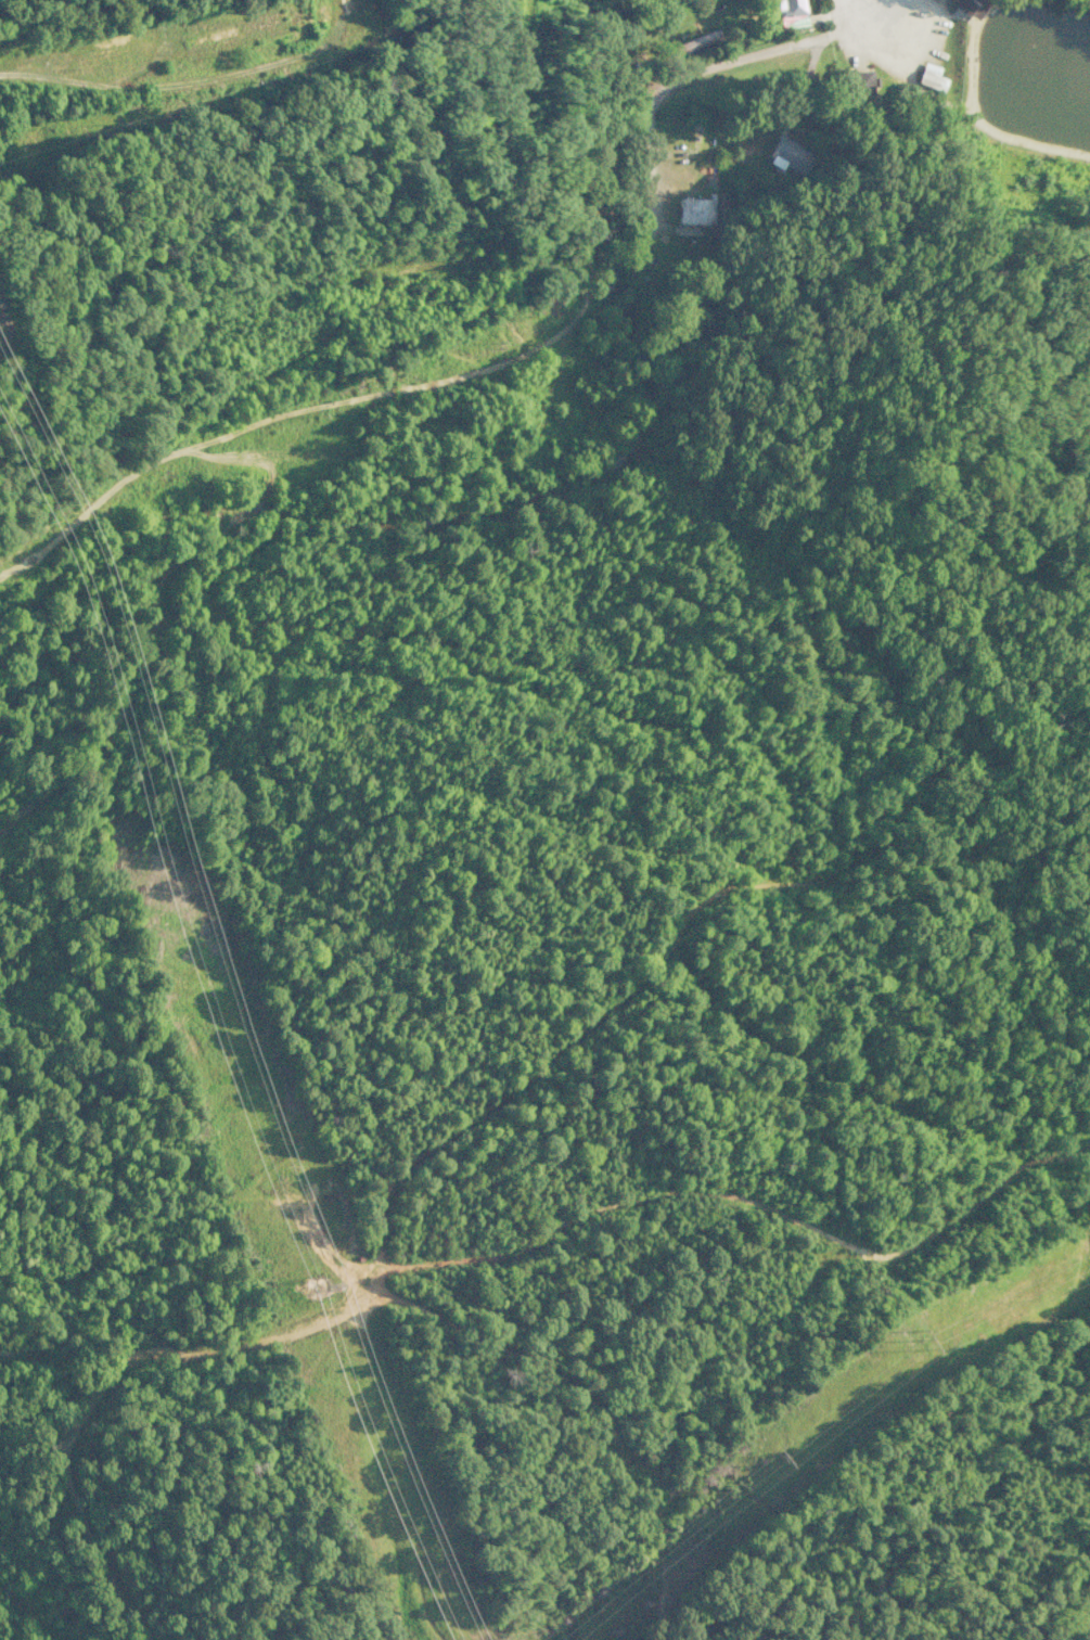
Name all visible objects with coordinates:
building: (788, 7)
building: (967, 7)
road: (706, 66)
building: (858, 82)
road: (164, 85)
building: (787, 155)
building: (701, 209)
road: (345, 401)
power tower: (923, 1340)
power tower: (782, 1459)

